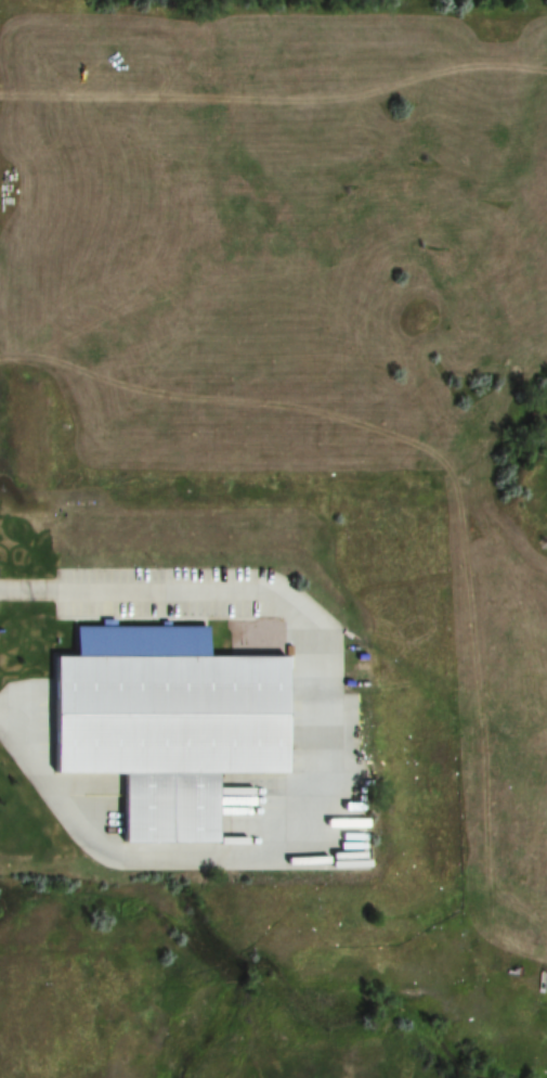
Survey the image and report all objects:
building: (162, 723)

